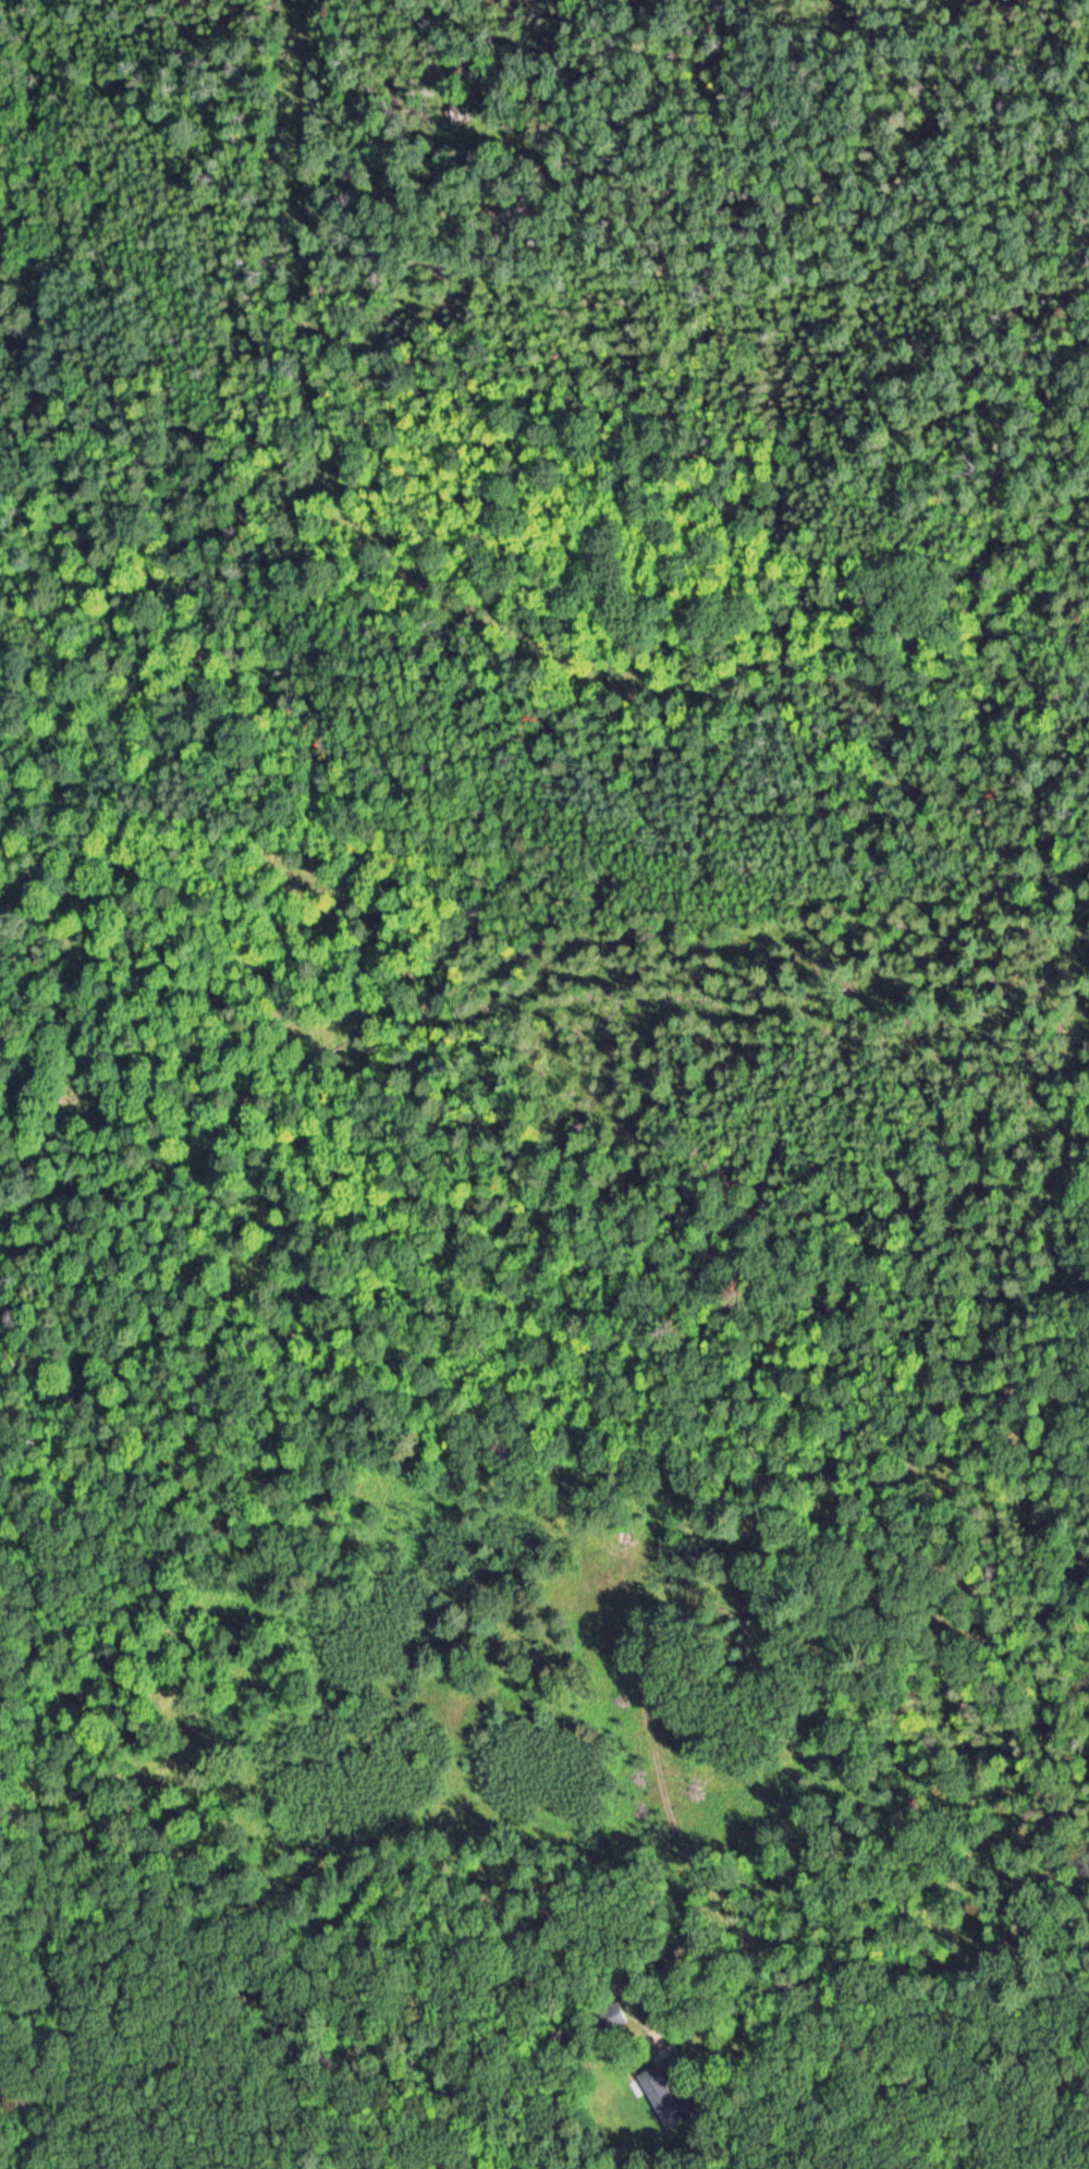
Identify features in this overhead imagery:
road: (587, 28)
building: (457, 113)
road: (711, 1939)
building: (666, 2091)

